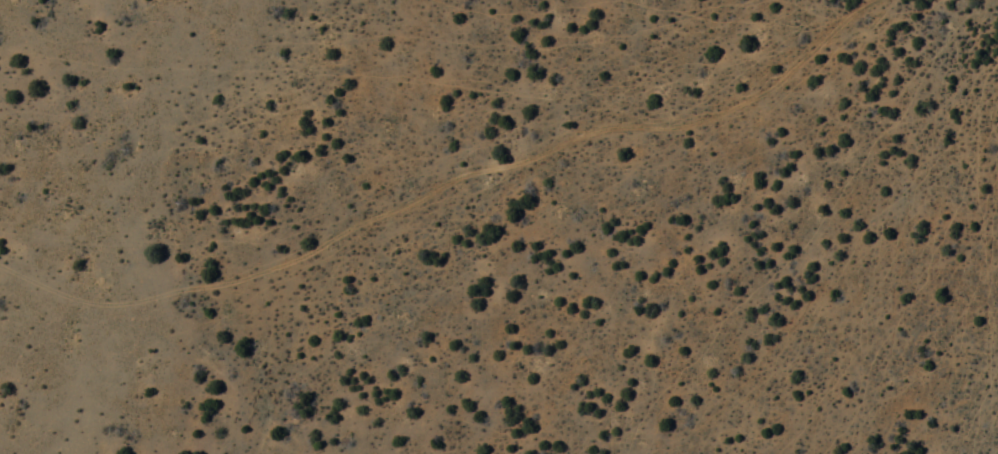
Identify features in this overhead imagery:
road: (449, 185)

